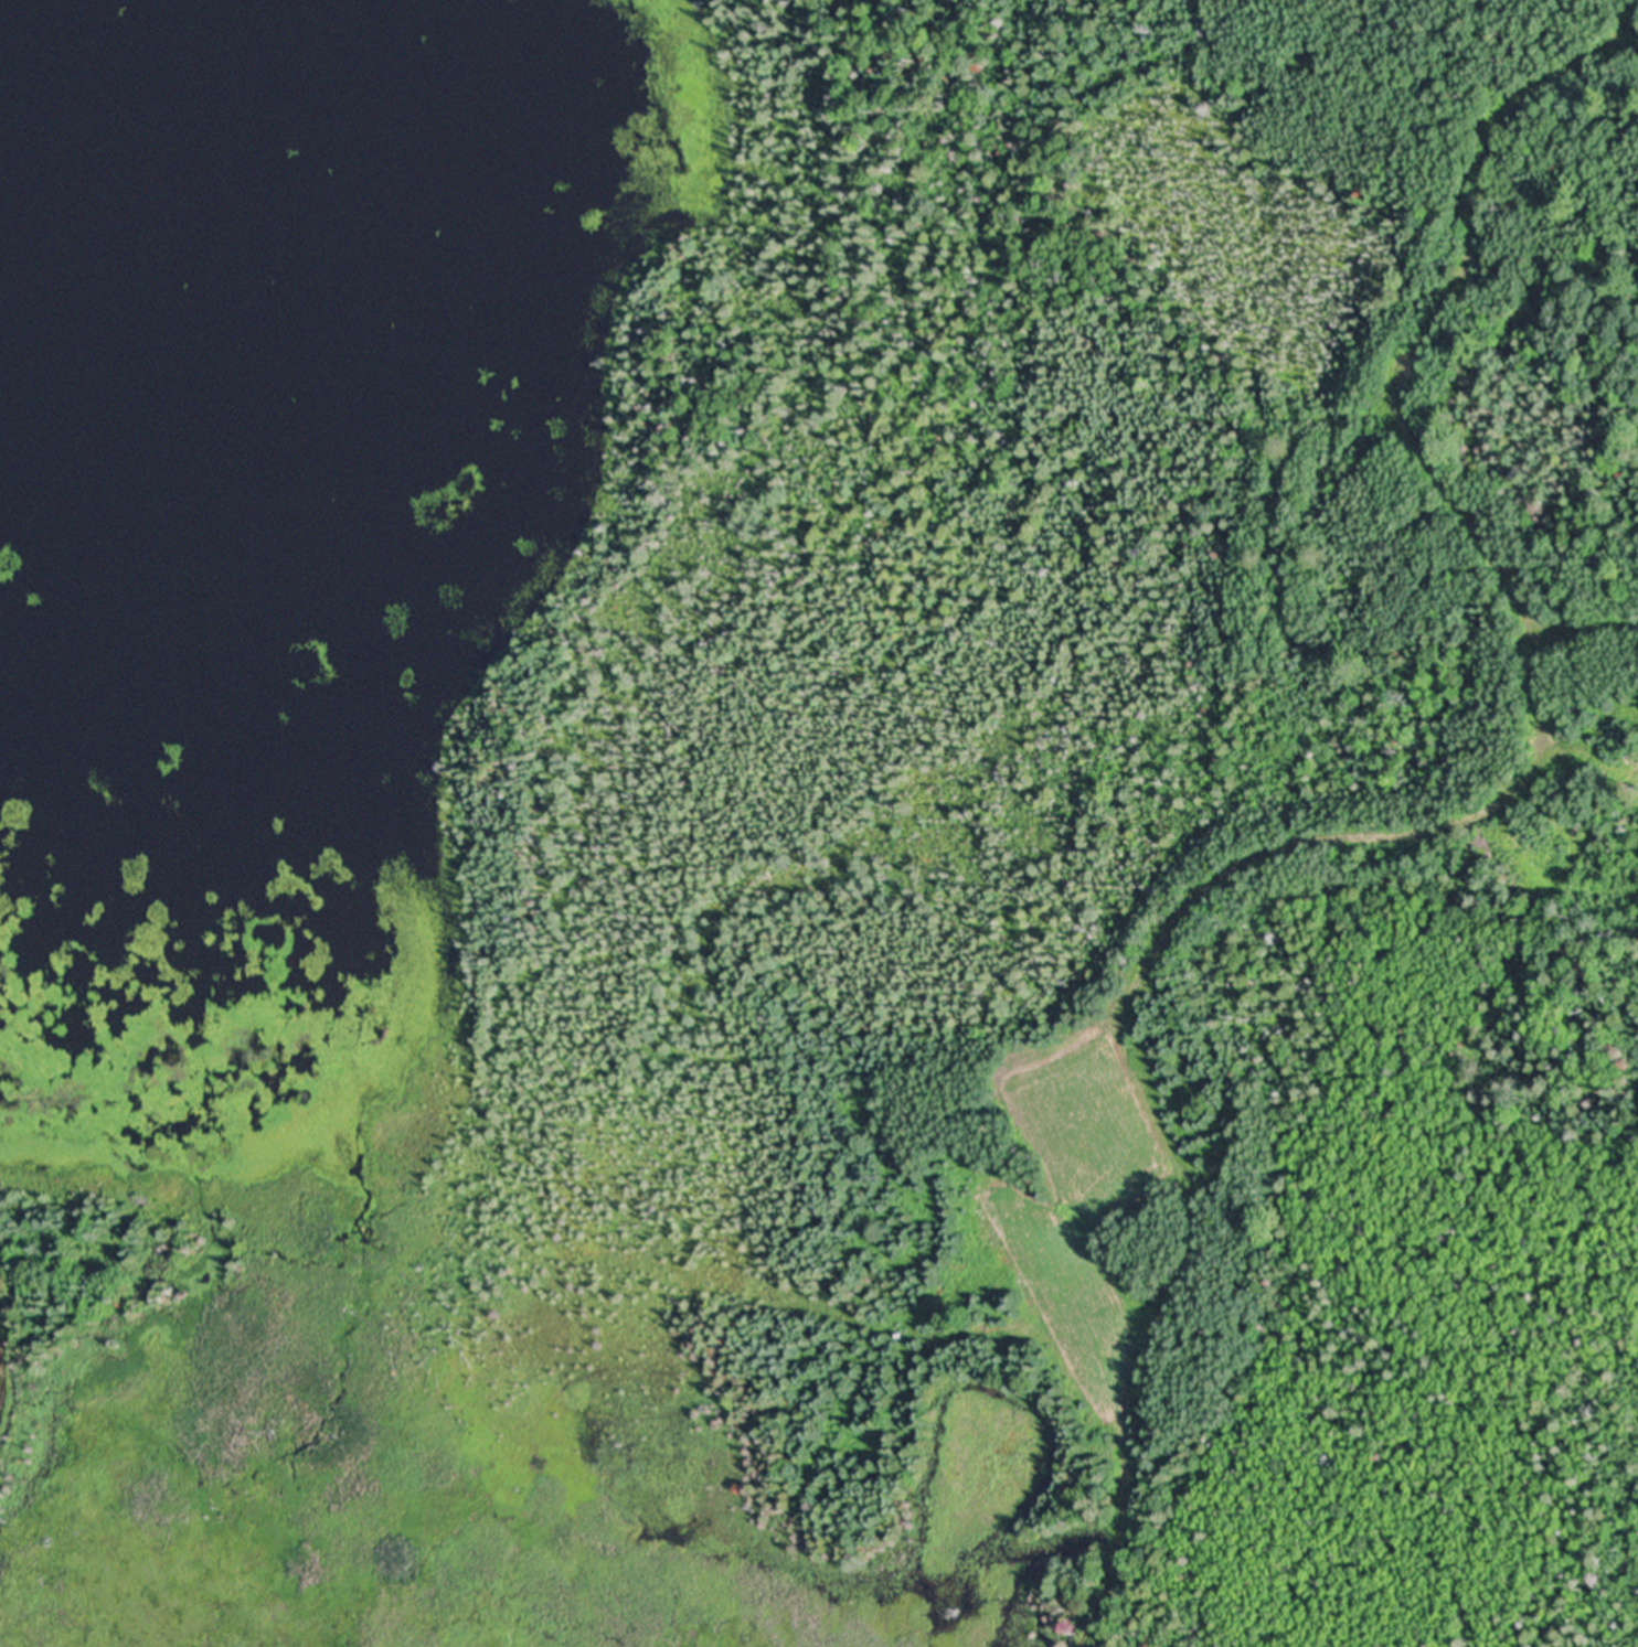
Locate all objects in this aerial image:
road: (4, 1317)

